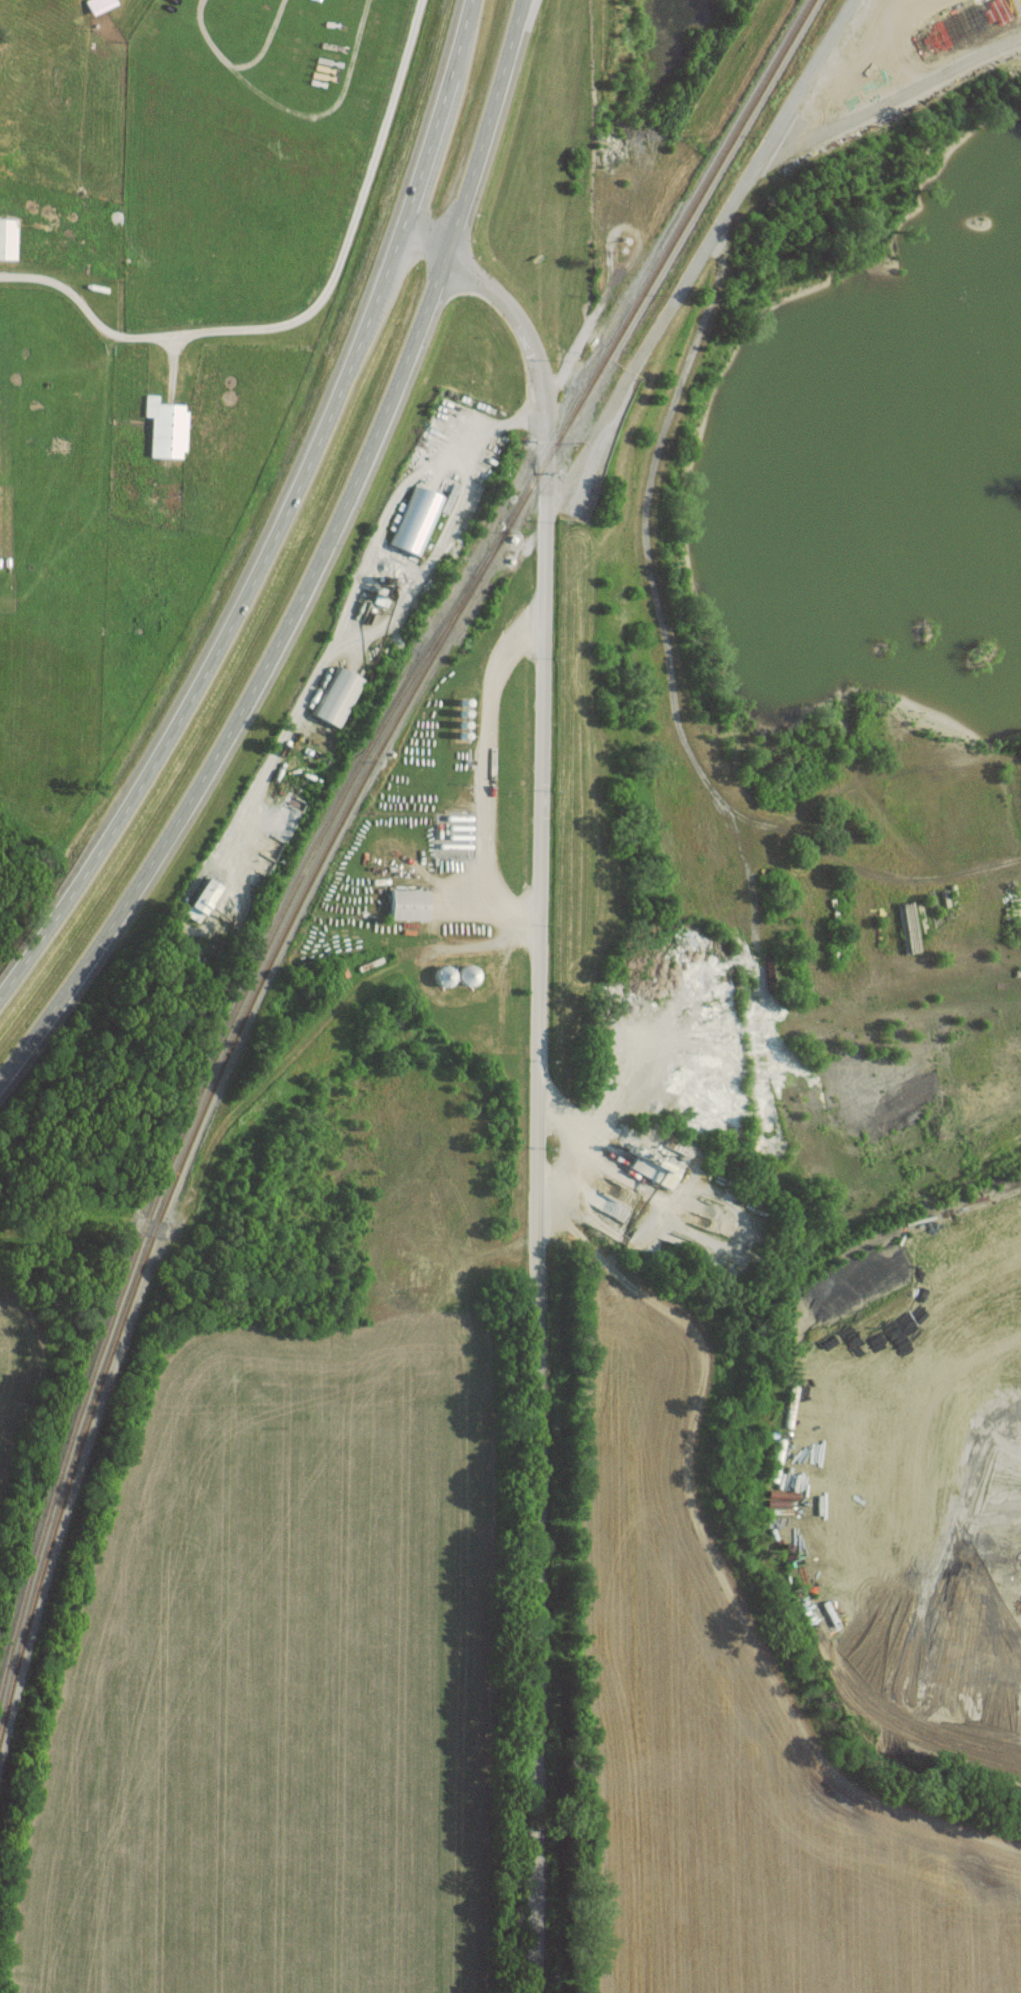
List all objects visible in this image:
road: (807, 71)
building: (6, 238)
road: (307, 313)
road: (687, 364)
road: (637, 371)
road: (541, 391)
building: (164, 428)
road: (284, 518)
building: (415, 522)
road: (318, 567)
road: (545, 683)
building: (335, 696)
road: (487, 774)
road: (782, 827)
railway: (332, 836)
building: (197, 898)
building: (405, 904)
railway: (190, 1111)
building: (655, 1169)
road: (536, 1373)

